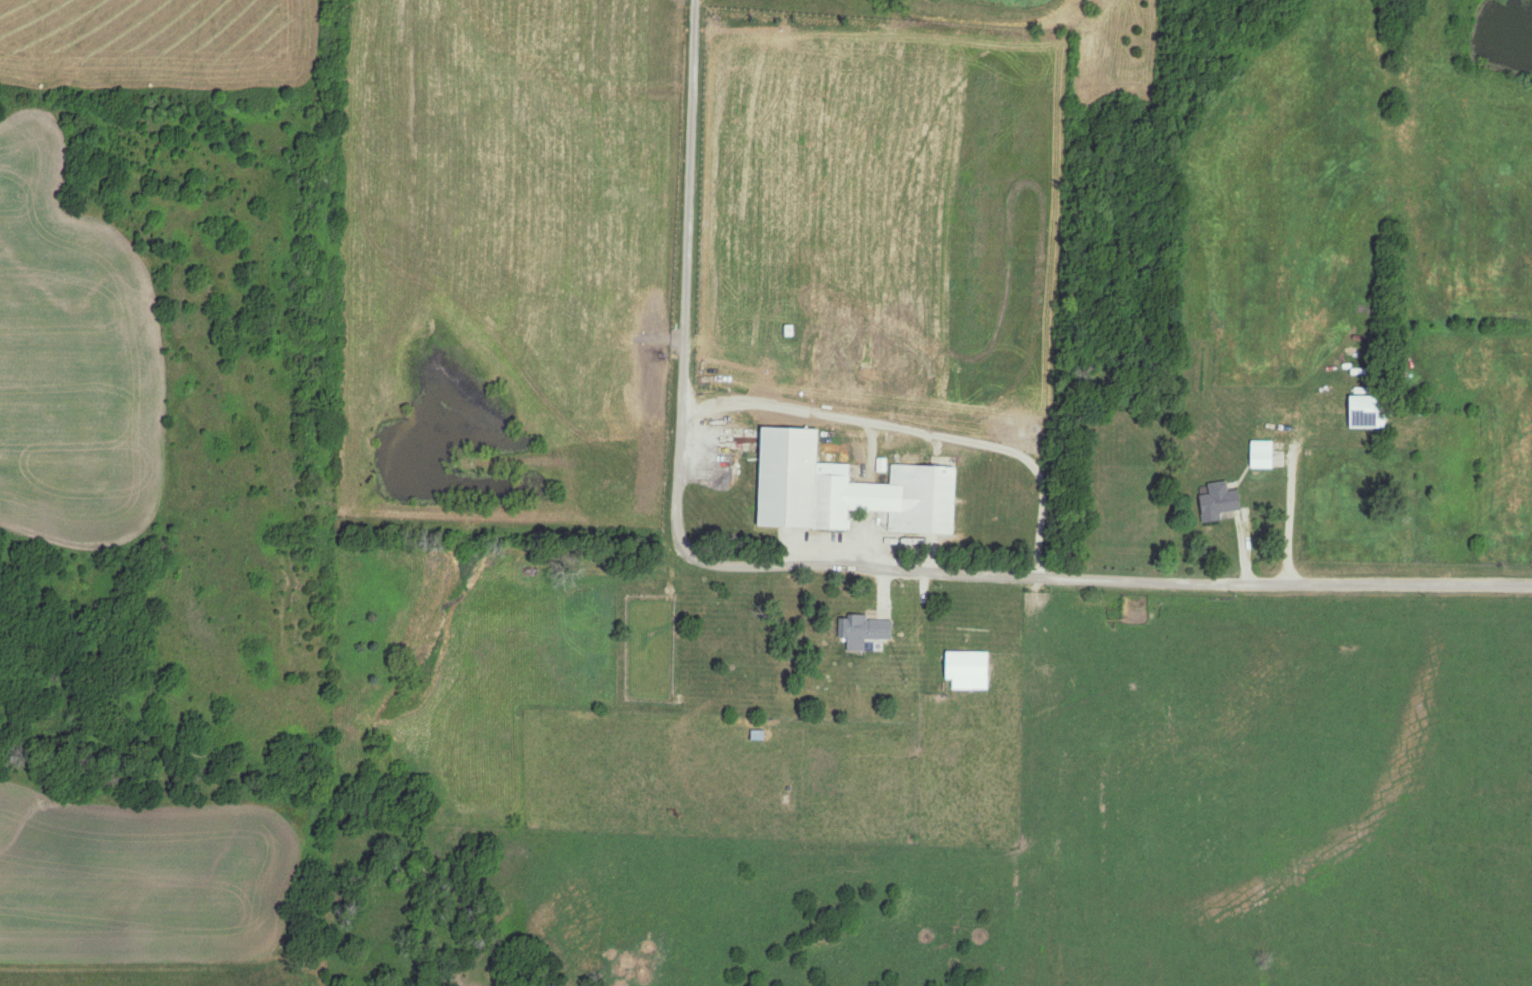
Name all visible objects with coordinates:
road: (685, 375)
building: (1363, 405)
building: (1260, 454)
building: (845, 489)
building: (1217, 501)
road: (1292, 523)
road: (1206, 584)
building: (862, 631)
building: (967, 670)

